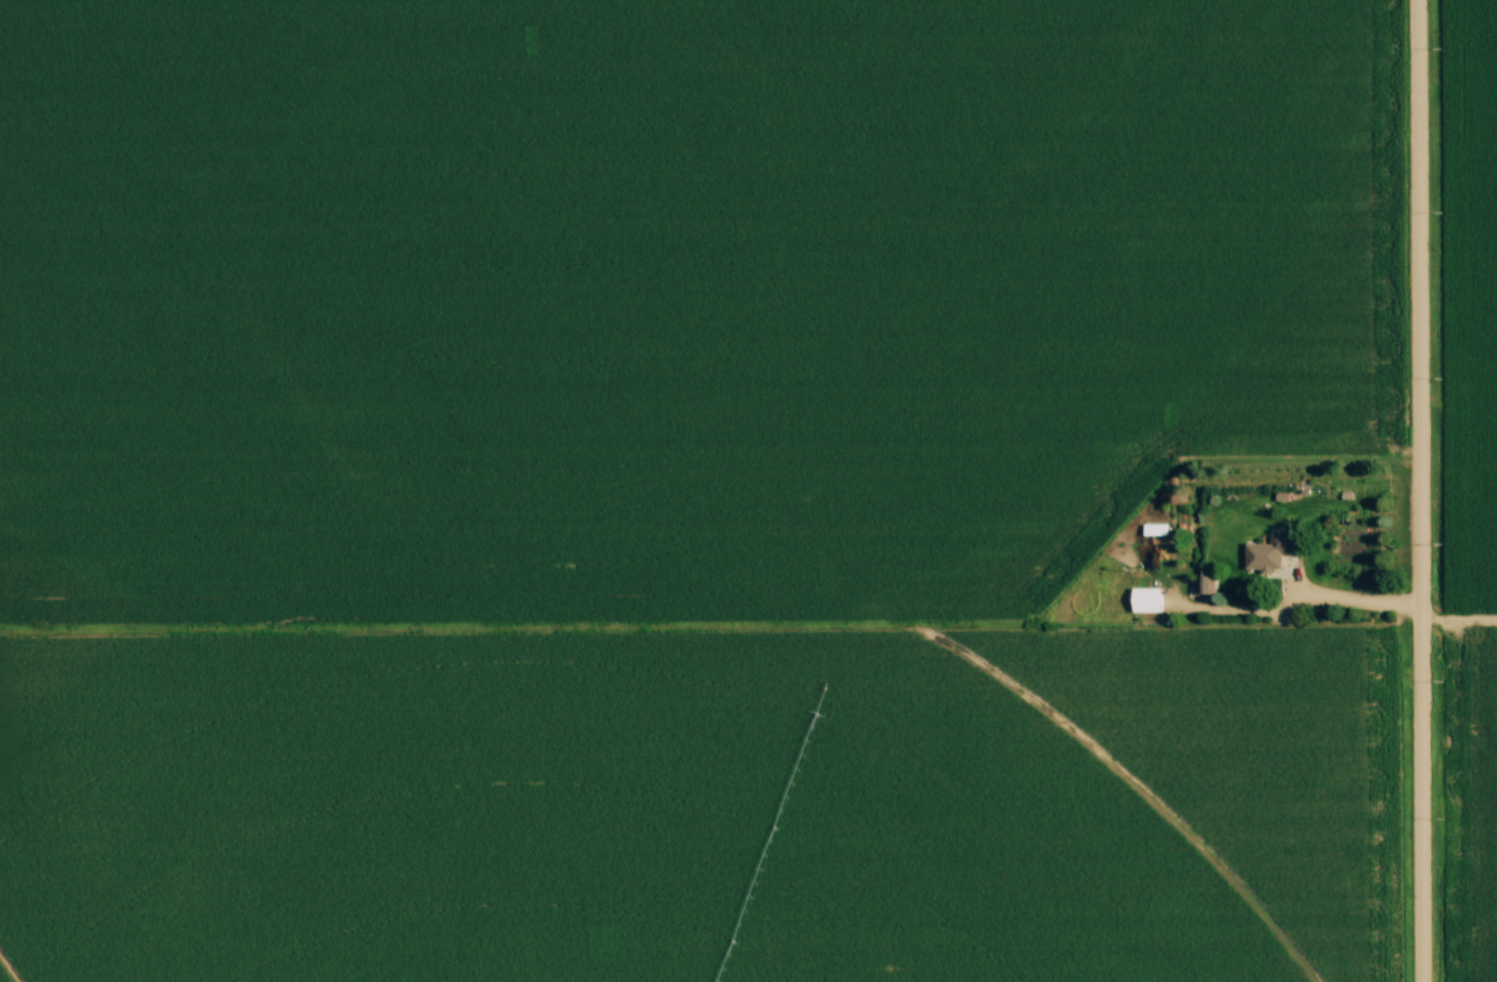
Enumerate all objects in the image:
road: (1420, 491)
building: (1155, 530)
building: (1270, 553)
building: (1146, 601)
road: (1354, 602)

